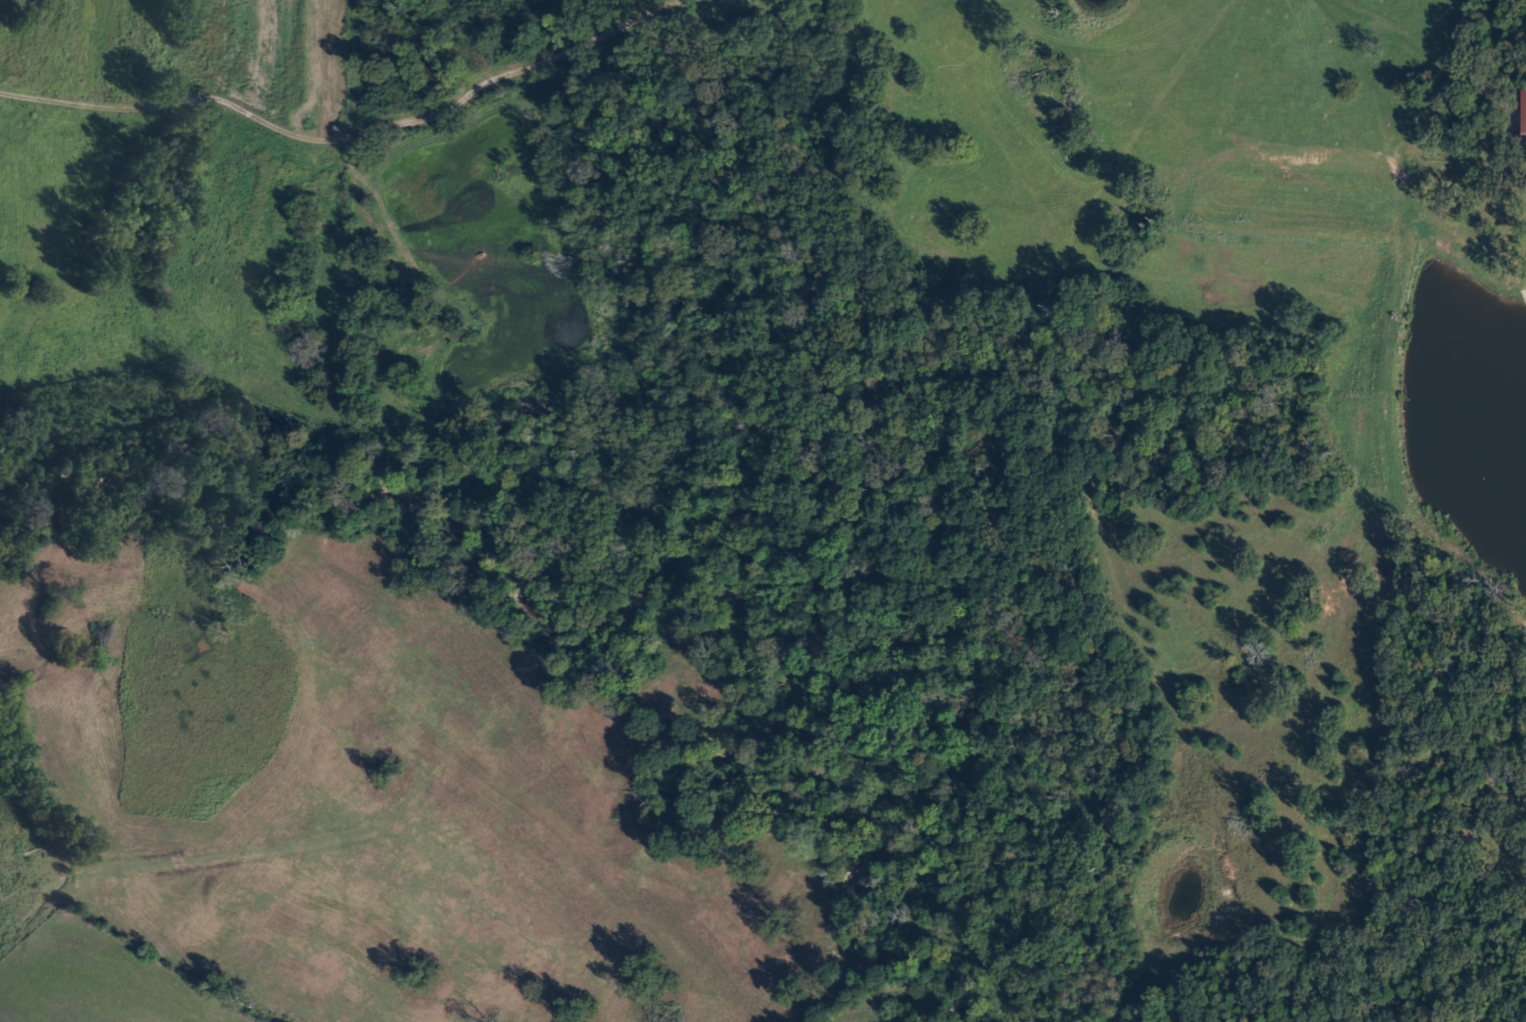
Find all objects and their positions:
road: (609, 556)

